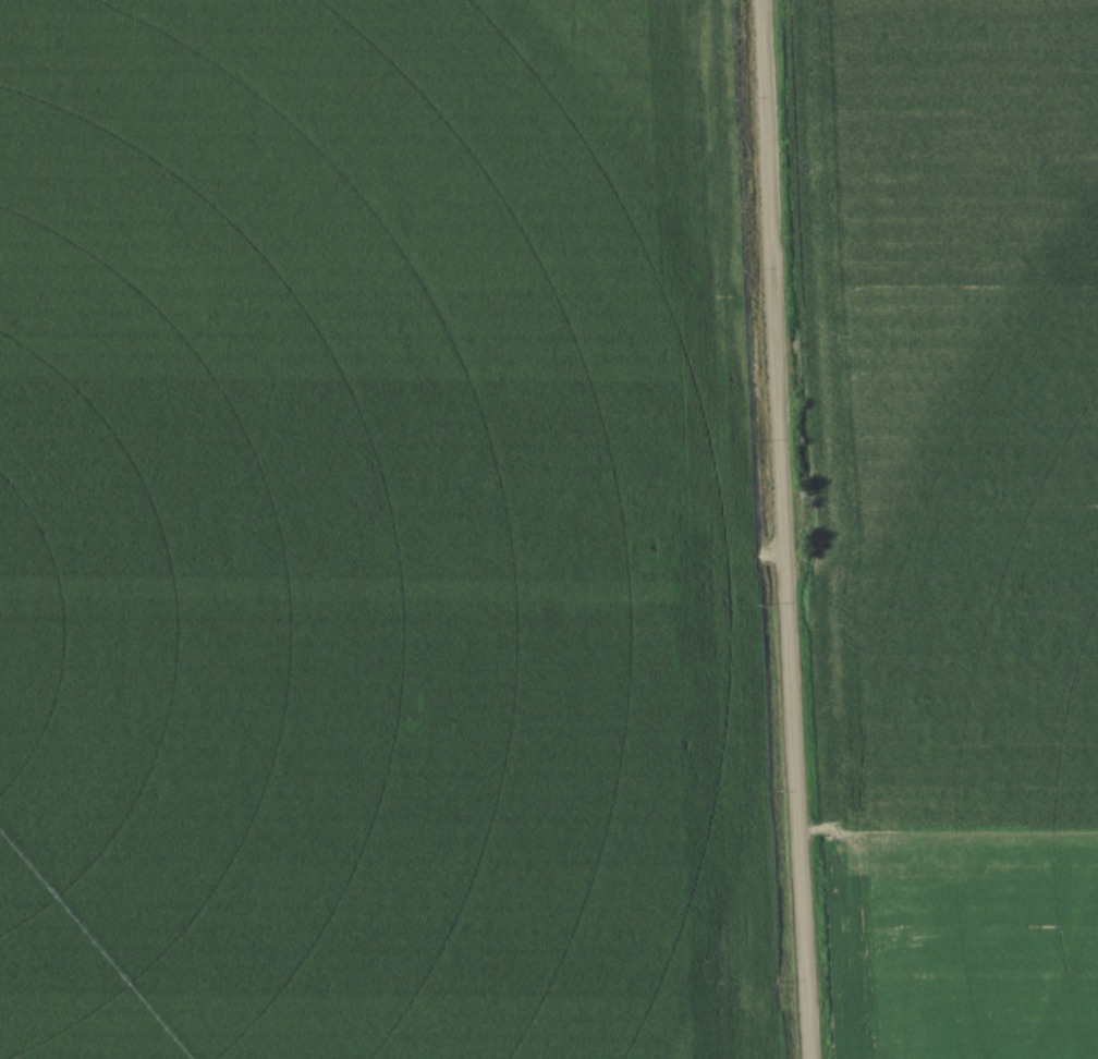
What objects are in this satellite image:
road: (776, 529)

